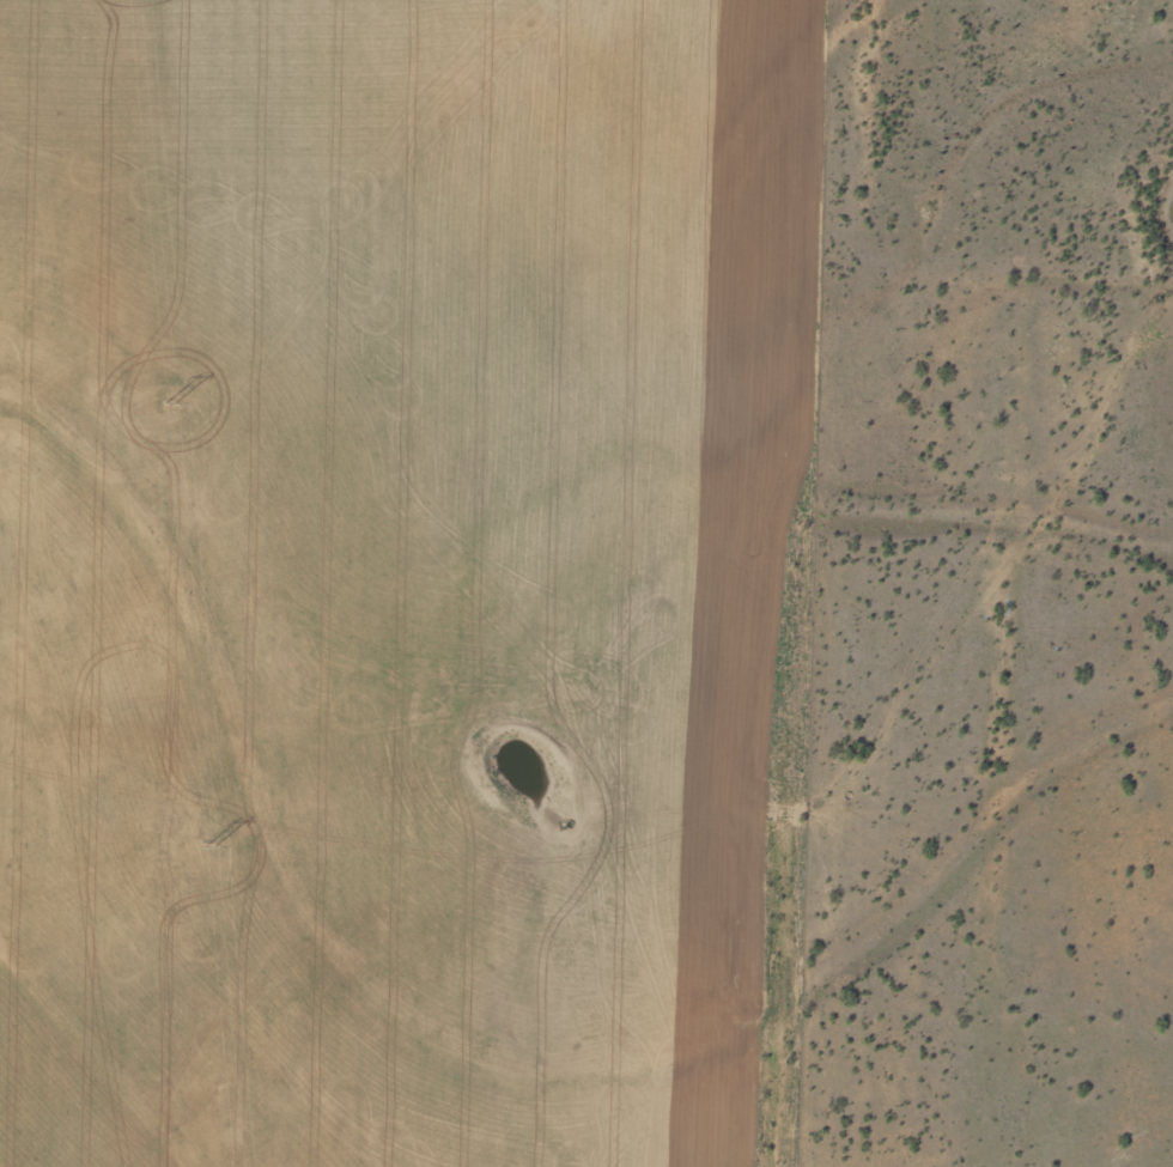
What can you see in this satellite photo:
power tower: (174, 405)
power tower: (212, 847)

